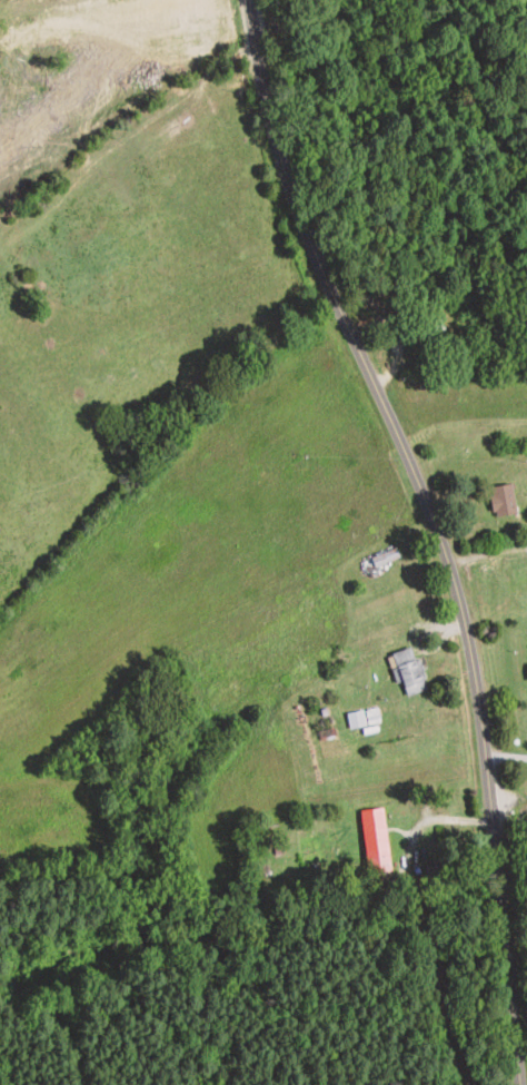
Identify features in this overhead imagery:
building: (427, 331)
building: (500, 500)
road: (435, 530)
building: (384, 559)
building: (407, 672)
building: (362, 719)
building: (375, 840)

